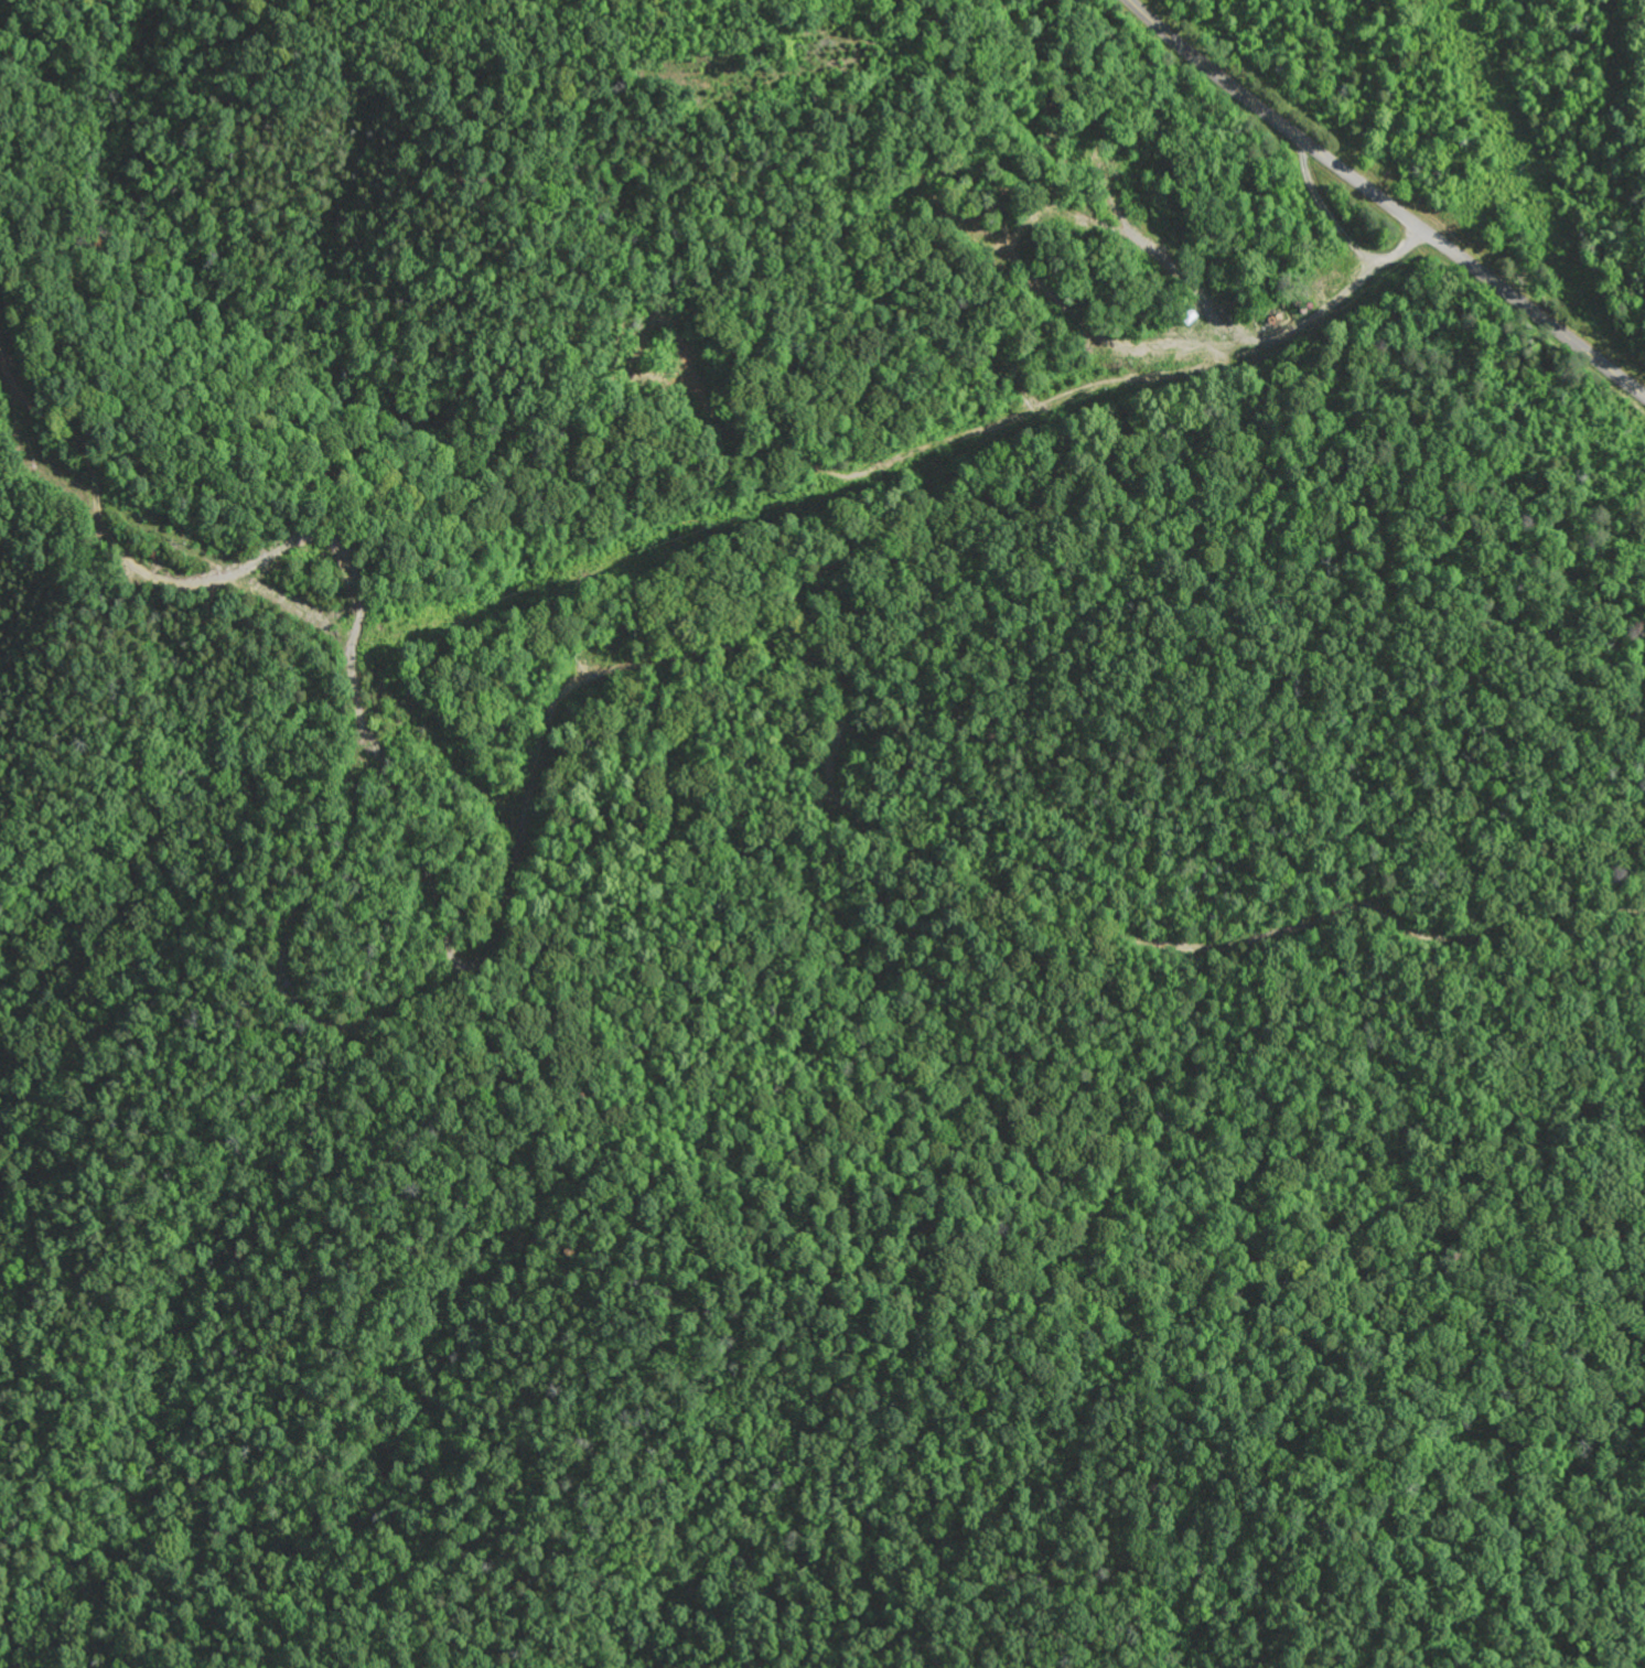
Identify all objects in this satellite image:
road: (1381, 200)

